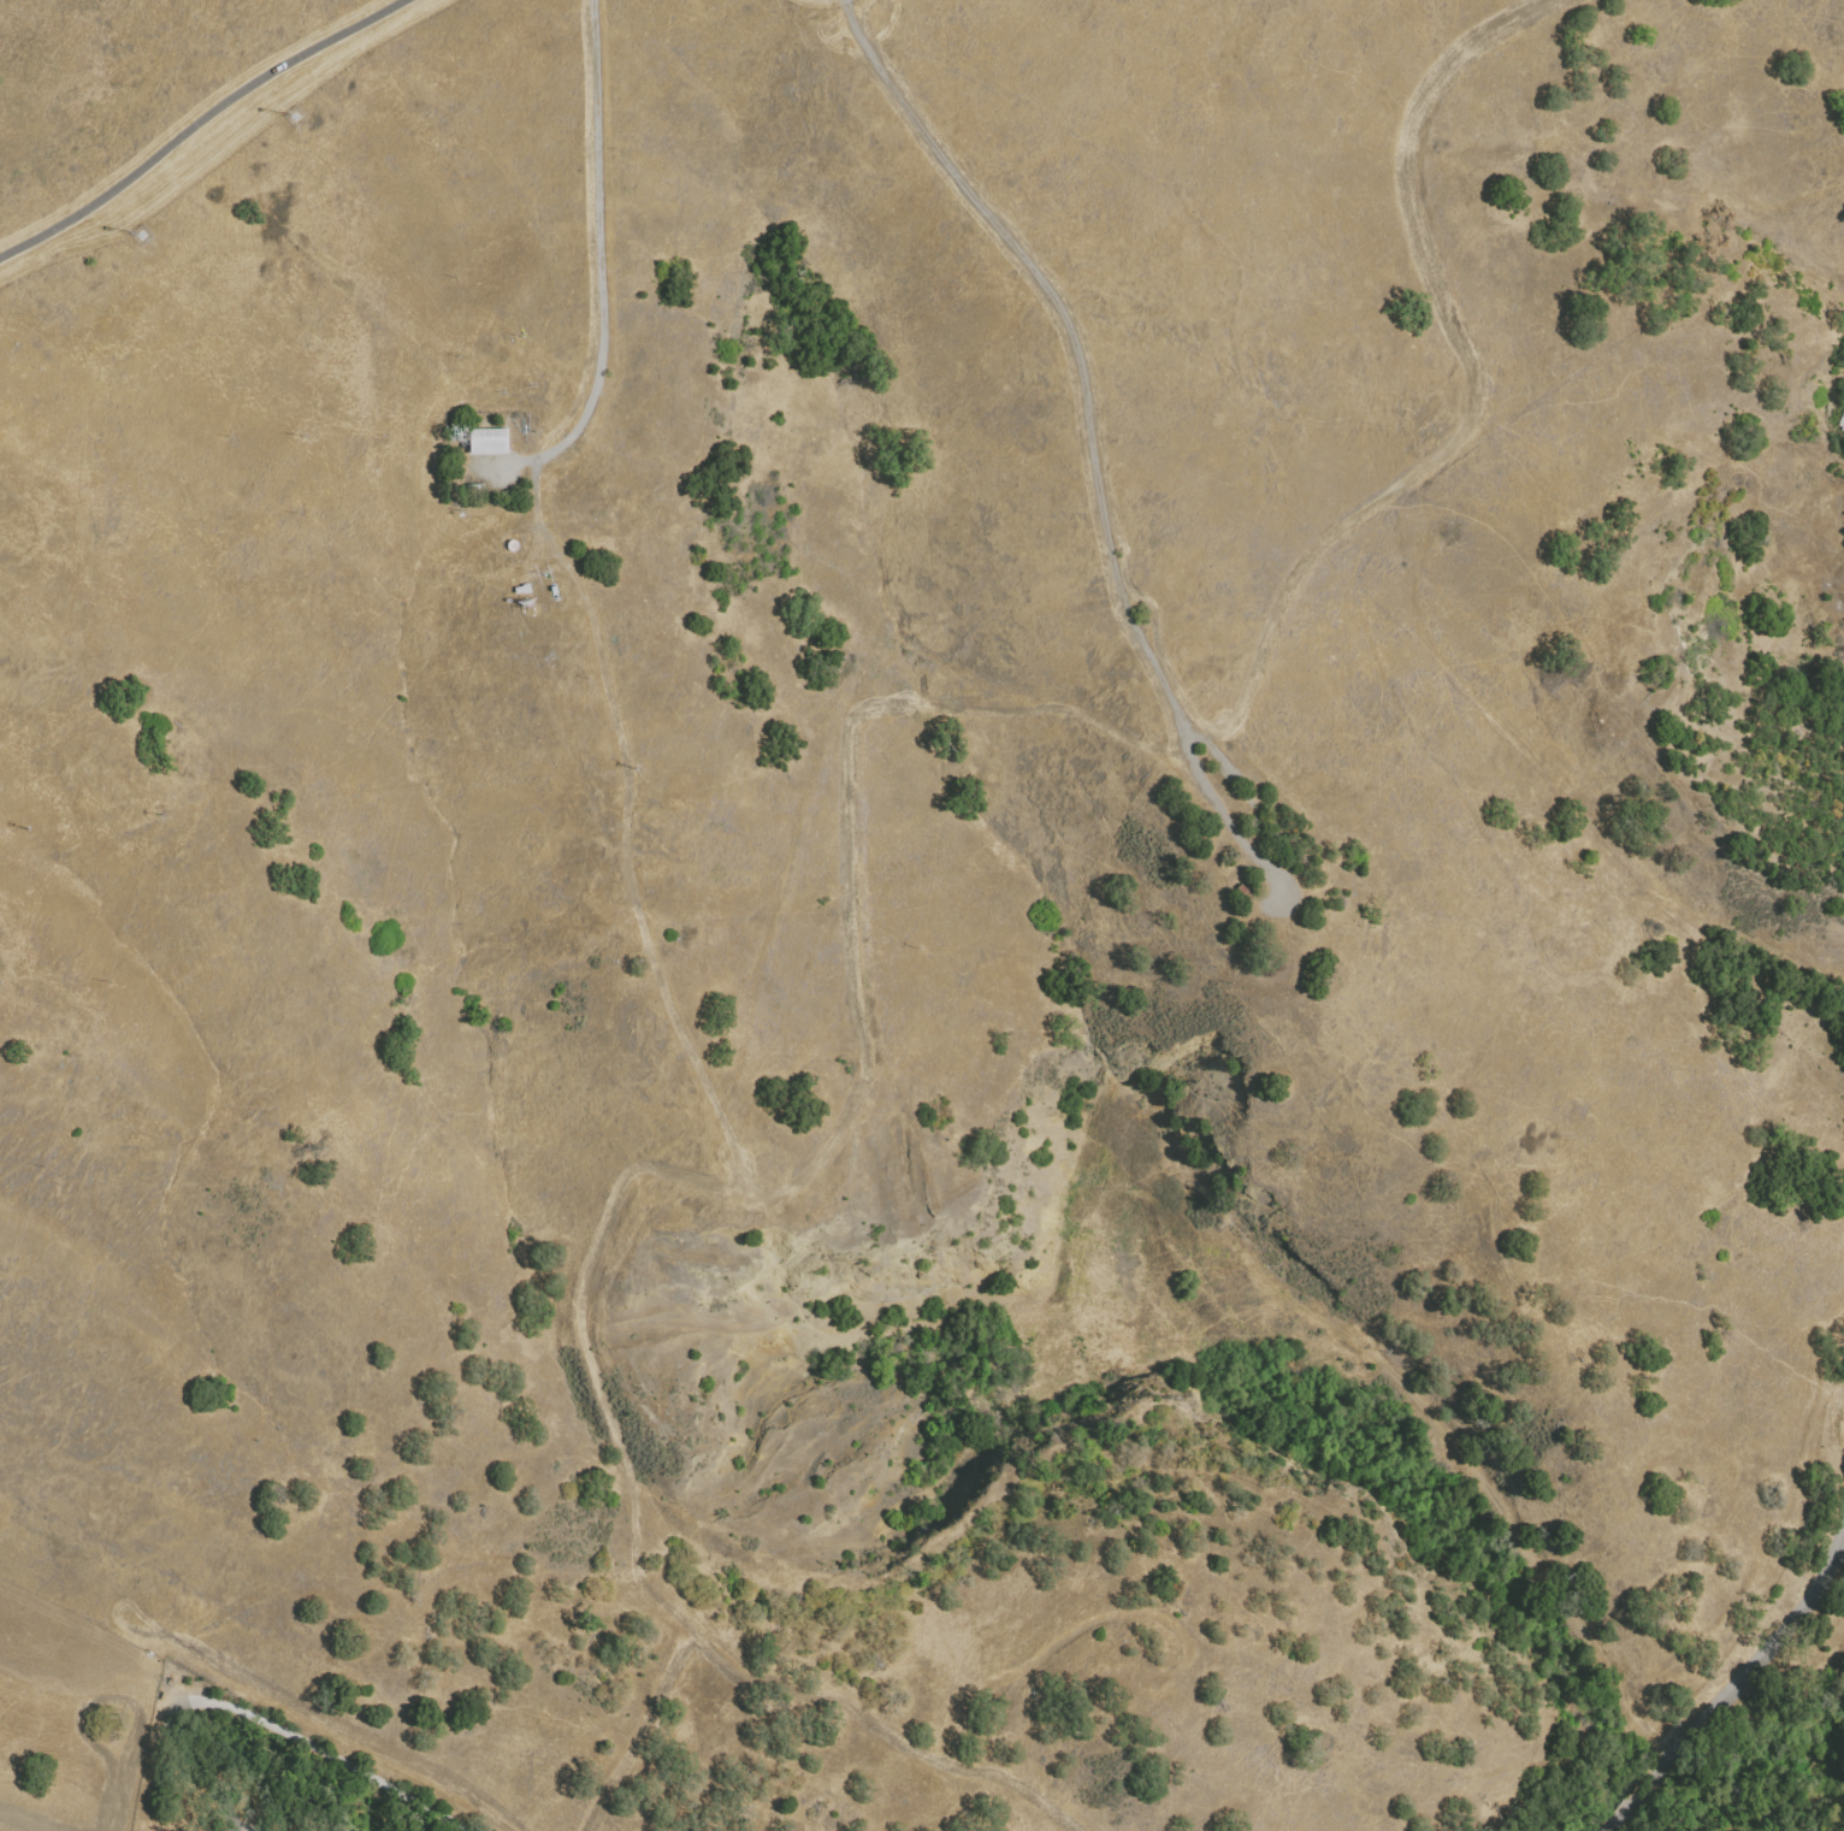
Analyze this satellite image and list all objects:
road: (202, 114)
road: (603, 268)
road: (1089, 436)
building: (489, 443)
building: (453, 482)
building: (472, 482)
building: (524, 589)
road: (1216, 754)
building: (1246, 894)
road: (1747, 1668)
road: (221, 1761)
road: (342, 1761)
road: (1627, 1808)
road: (1613, 1825)

